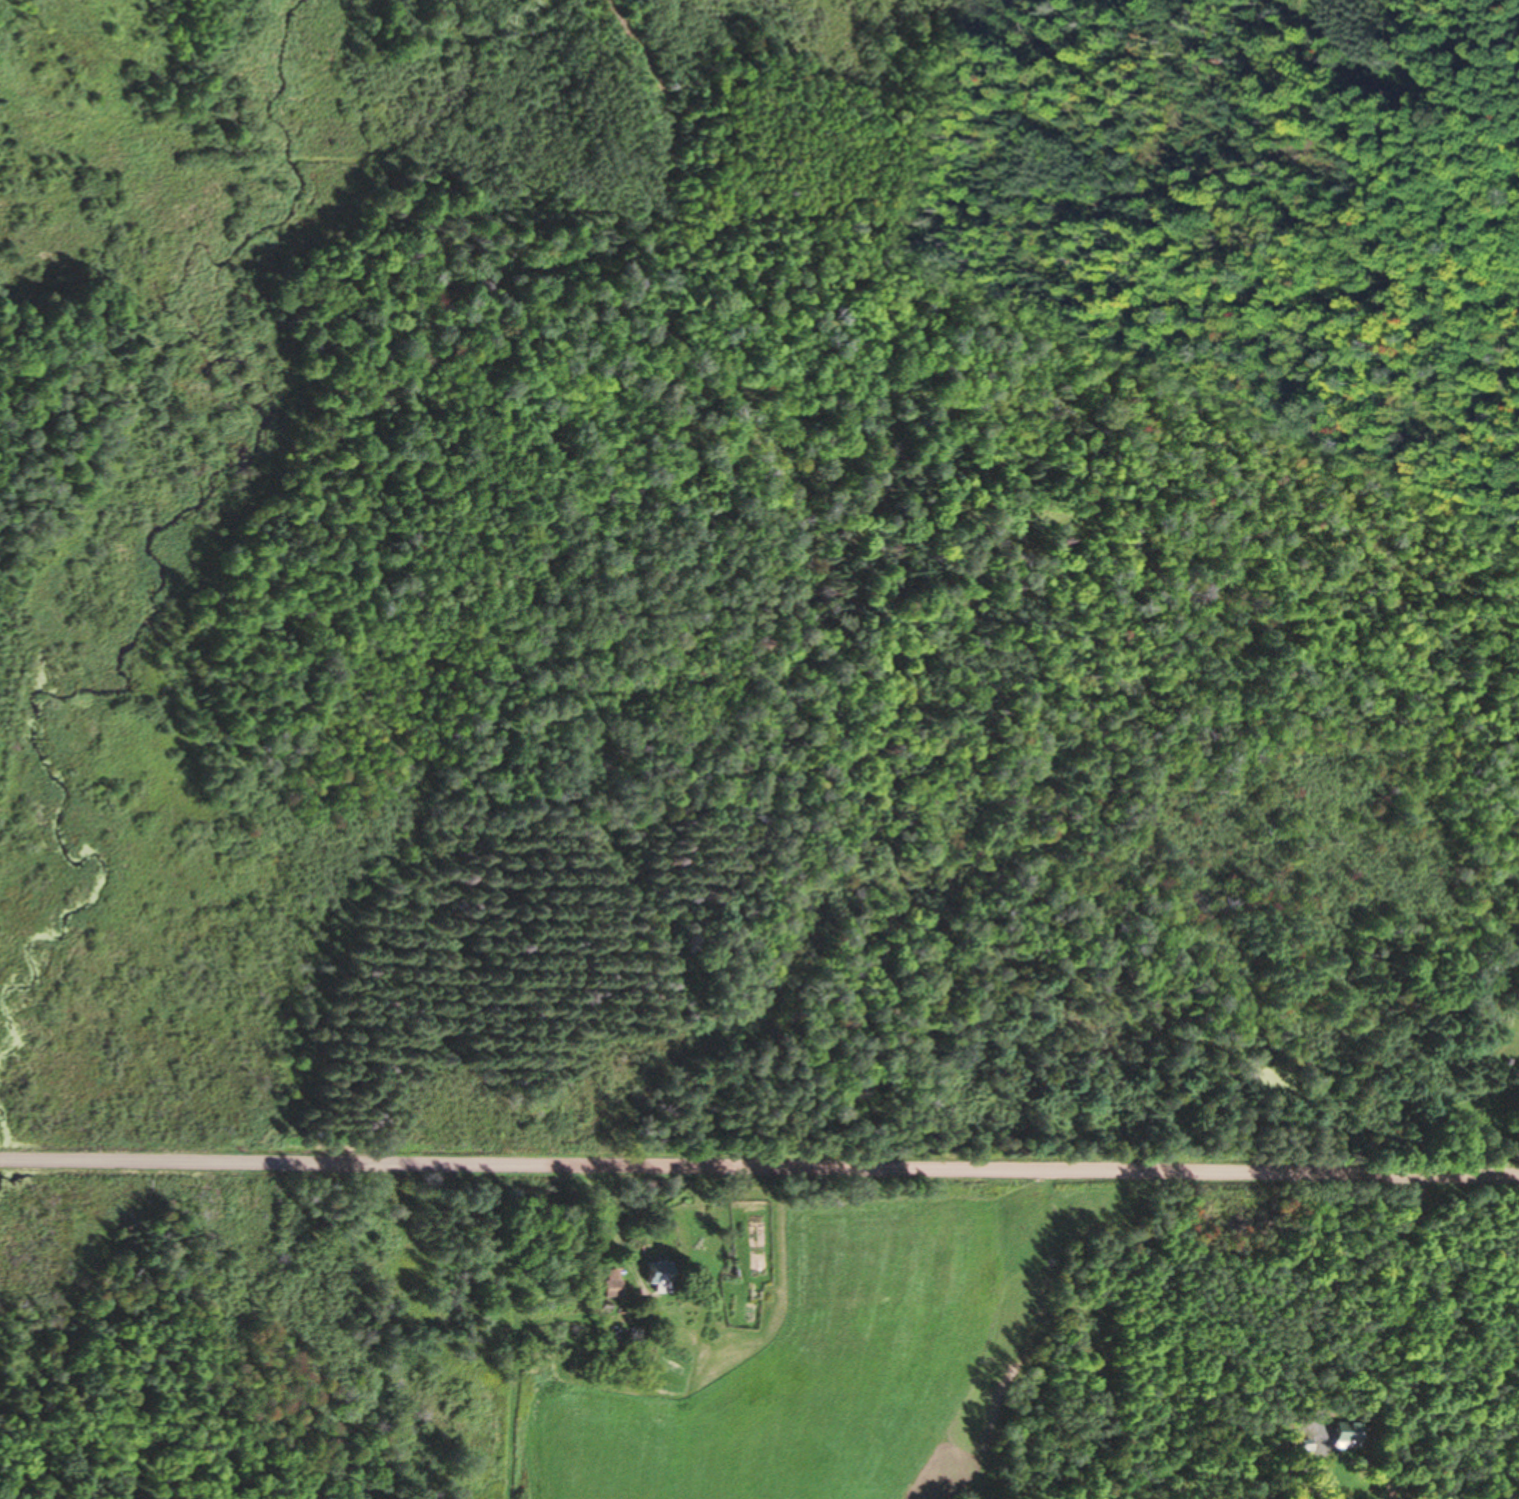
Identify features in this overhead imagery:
road: (759, 1162)
building: (658, 1277)
building: (609, 1284)
building: (1342, 1436)

